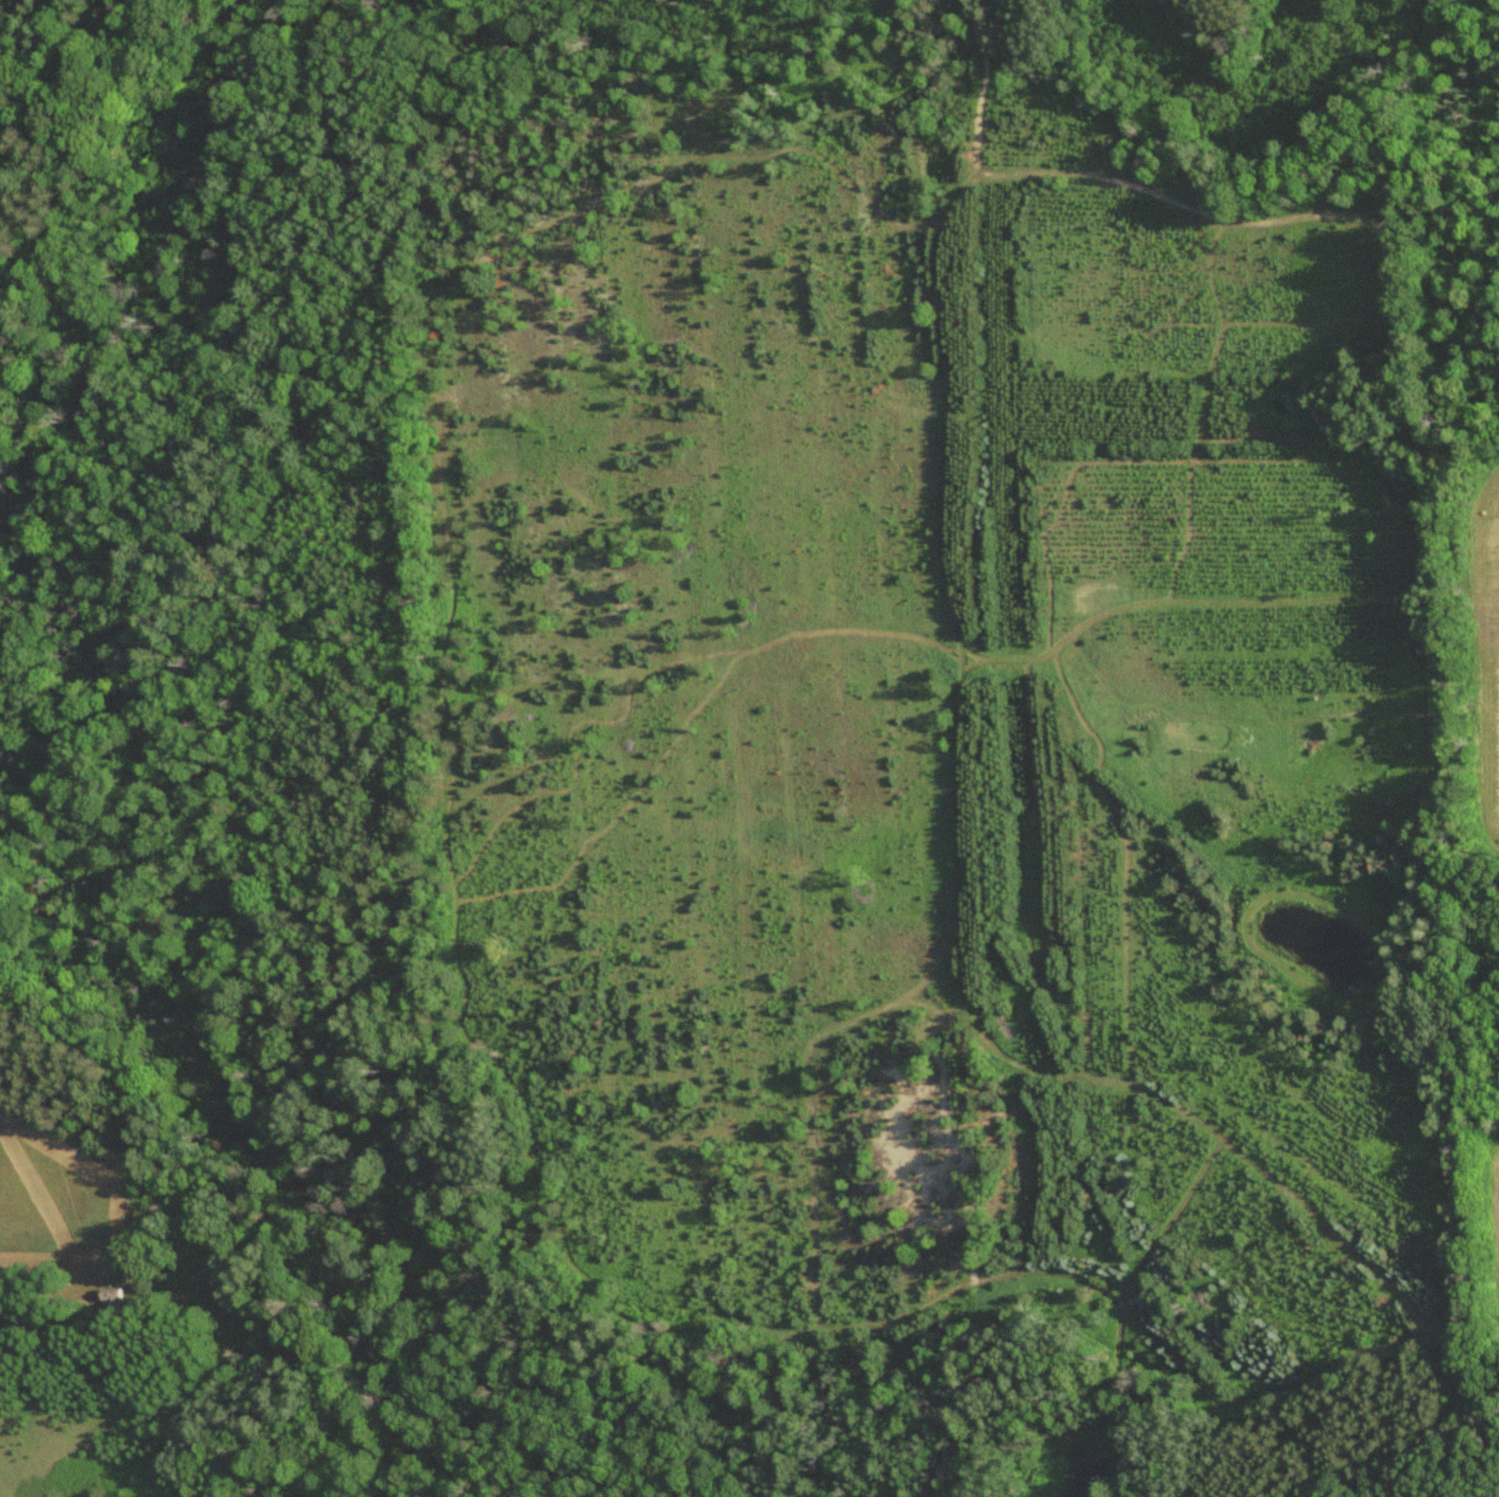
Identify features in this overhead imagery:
road: (46, 1249)

